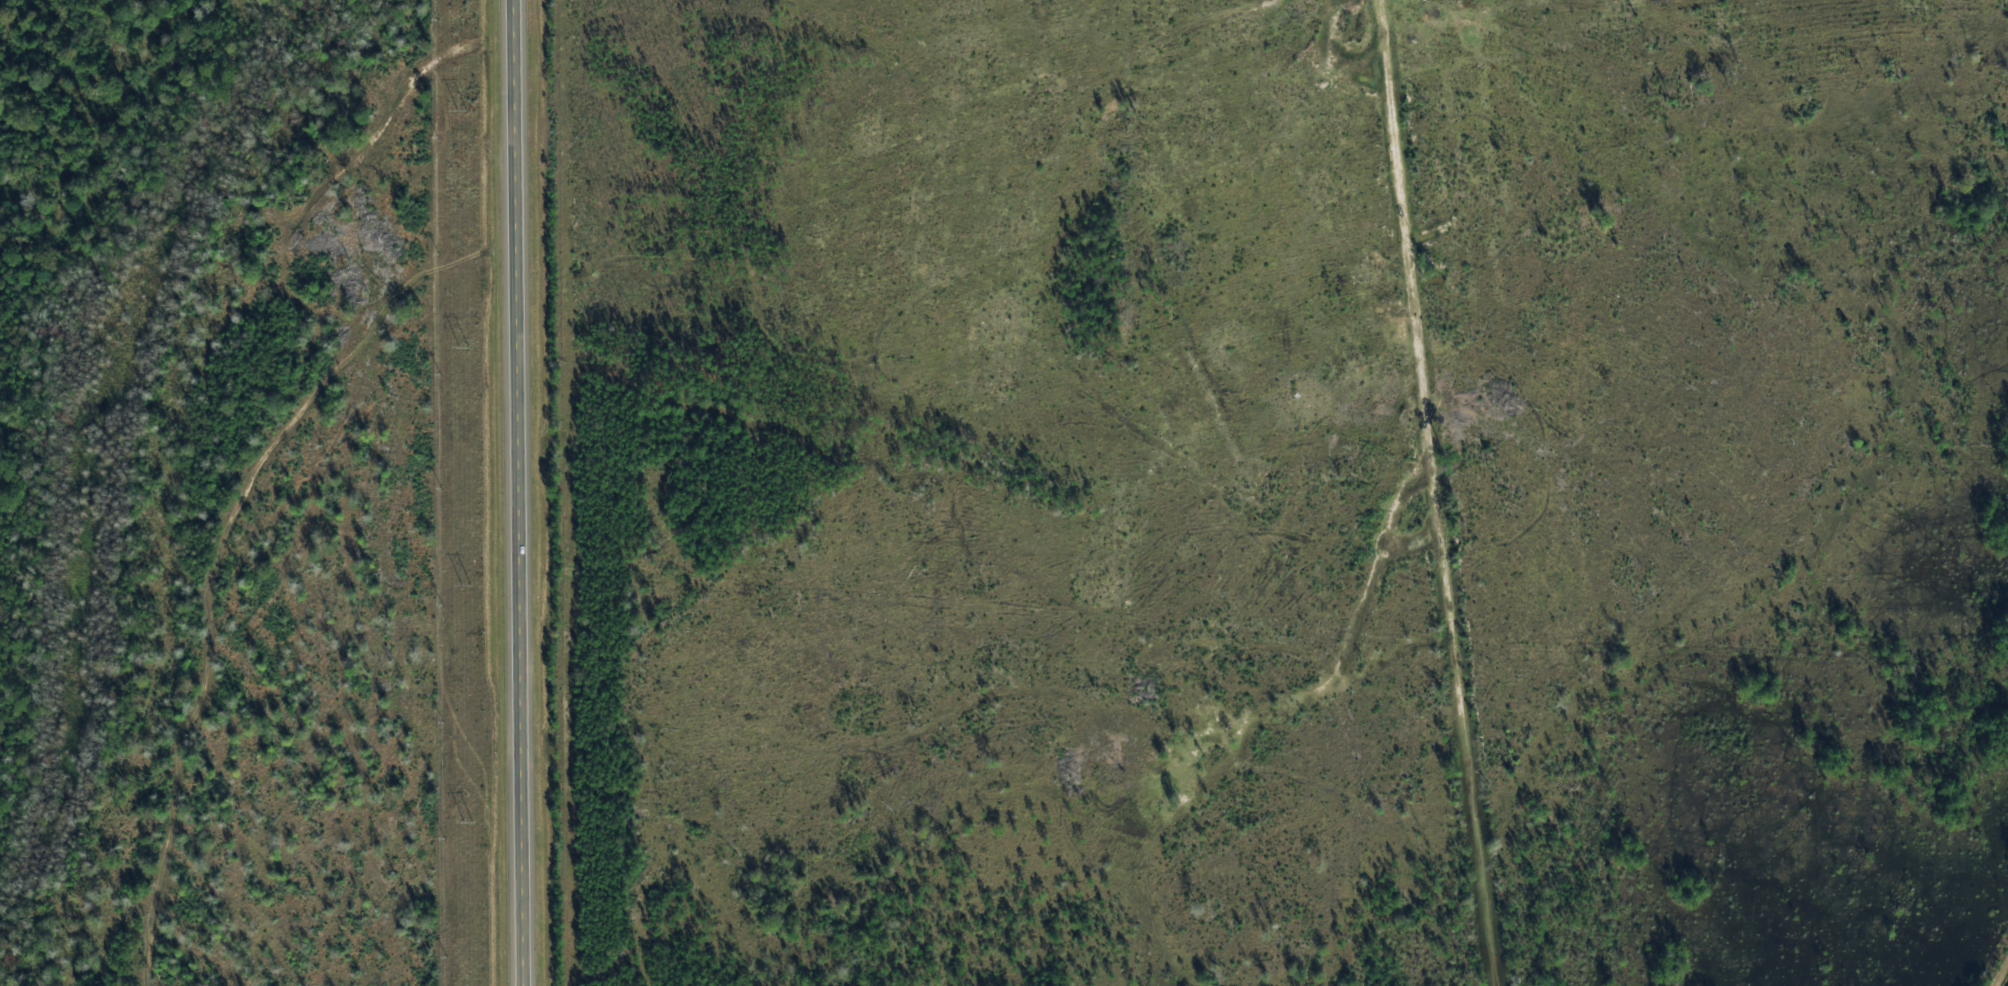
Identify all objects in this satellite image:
road: (519, 492)

